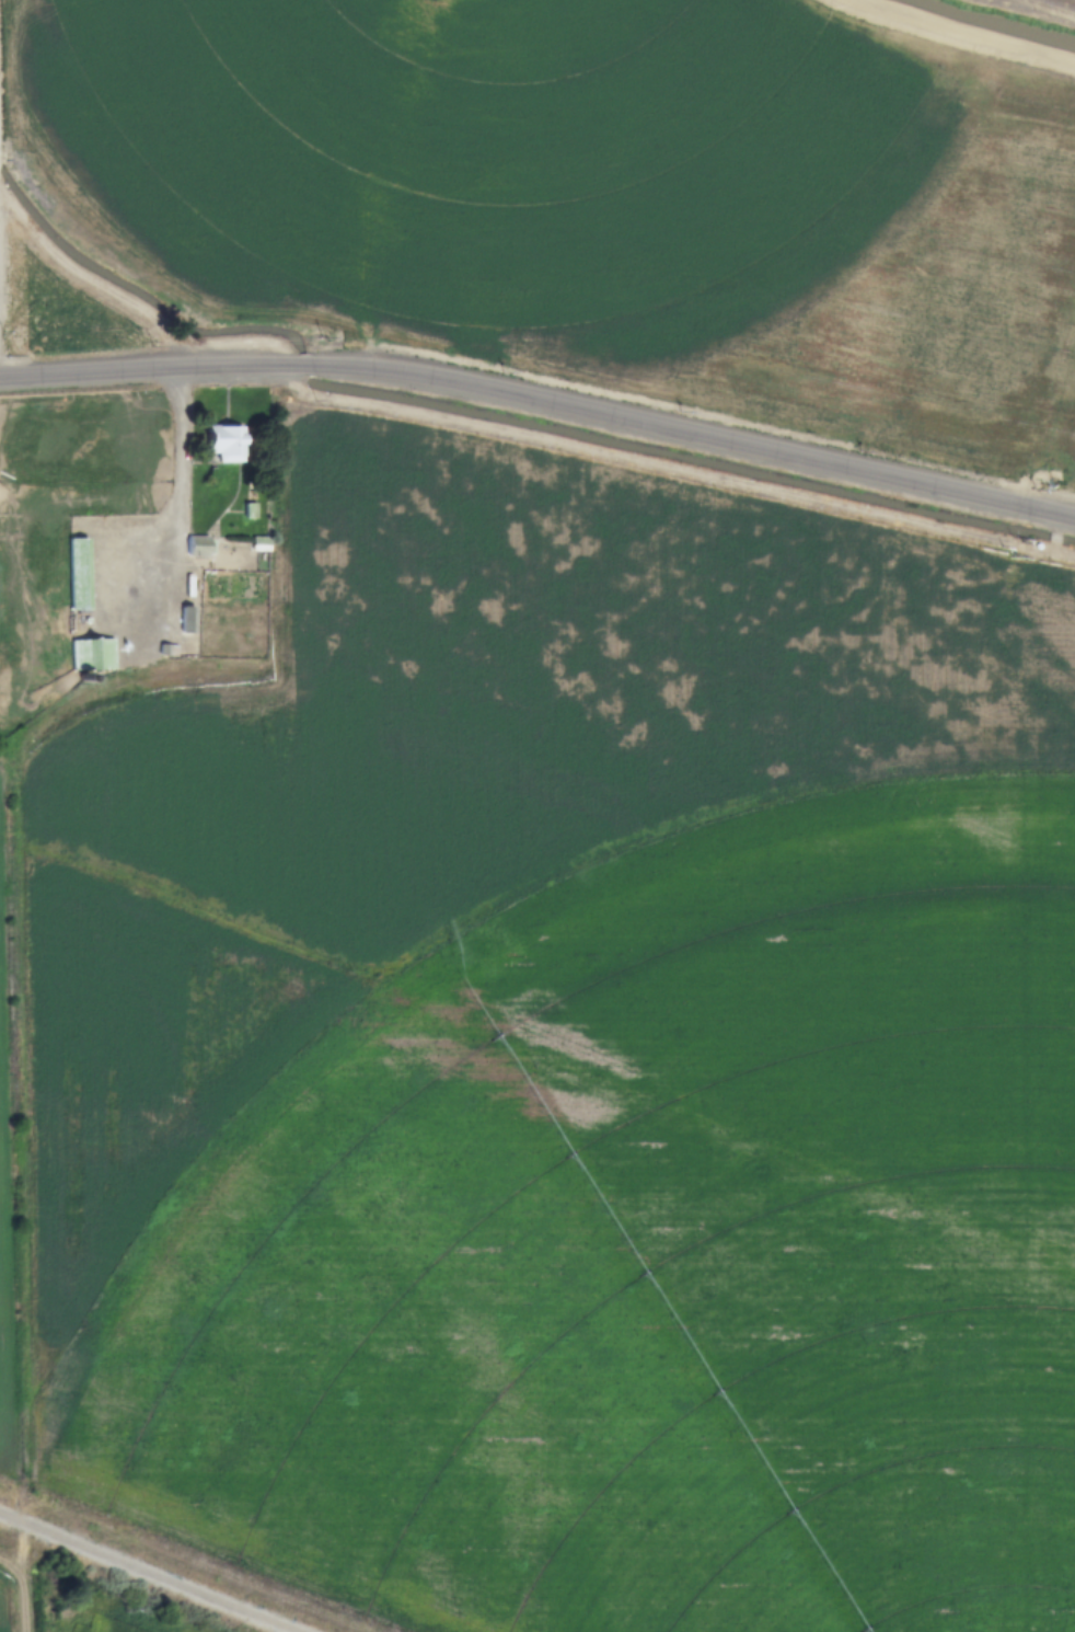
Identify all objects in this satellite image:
road: (1051, 7)
road: (963, 33)
crop: (589, 196)
road: (542, 399)
building: (224, 443)
building: (251, 512)
crop: (63, 519)
building: (262, 544)
building: (199, 547)
road: (222, 563)
building: (80, 574)
road: (176, 595)
building: (187, 620)
road: (171, 624)
road: (128, 641)
building: (155, 641)
building: (169, 651)
building: (93, 655)
road: (2, 771)
crop: (567, 1064)
crop: (4, 1170)
road: (146, 1573)
road: (22, 1591)
crop: (5, 1607)
crop: (122, 1620)

